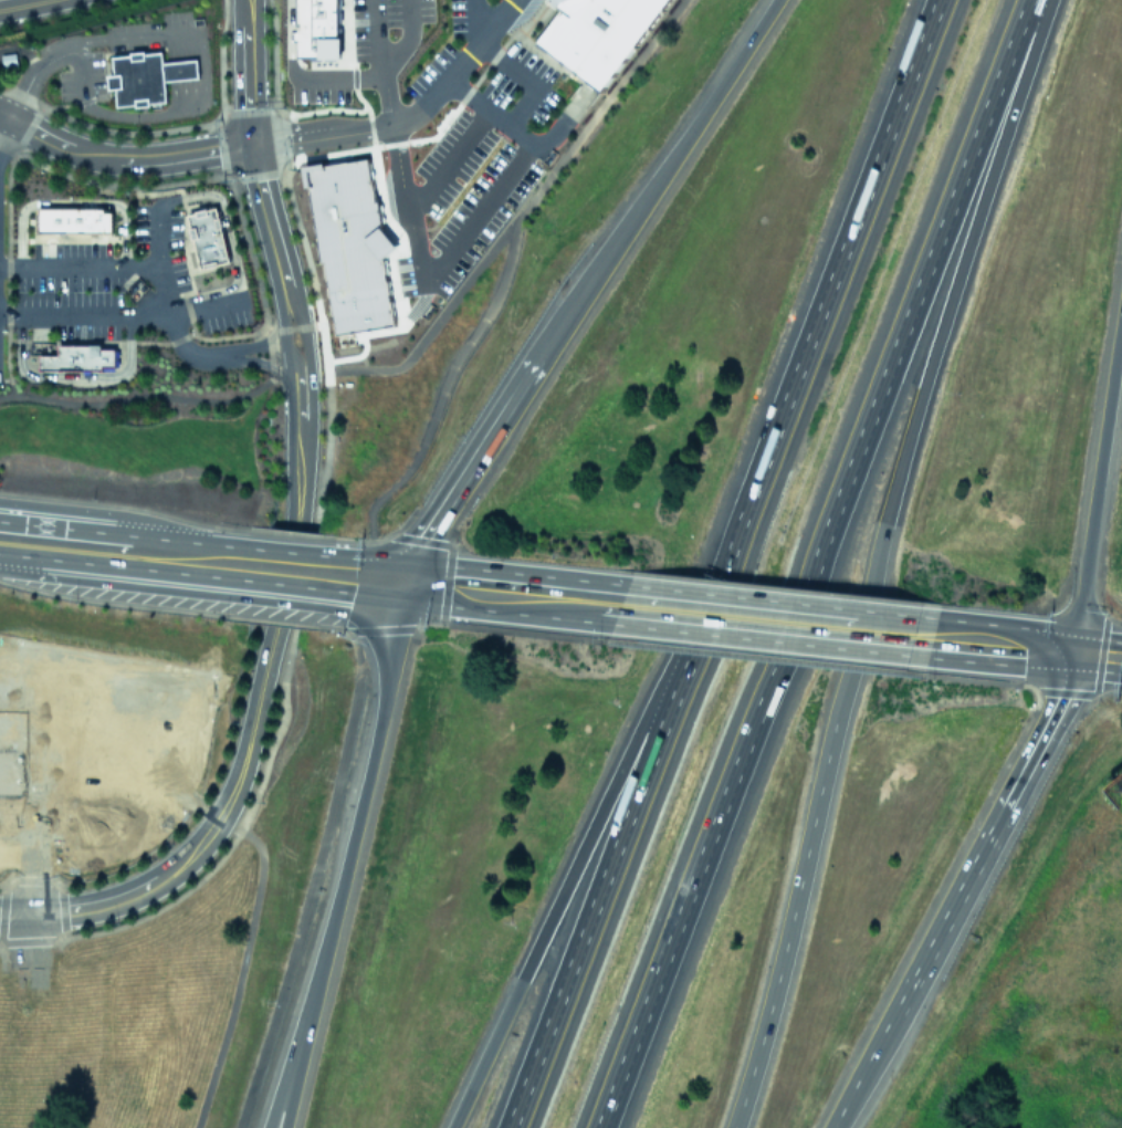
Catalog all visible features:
building: (556, 1)
road: (23, 4)
building: (315, 27)
road: (139, 33)
building: (597, 33)
road: (376, 35)
road: (402, 38)
road: (289, 39)
parking lot: (368, 48)
building: (9, 58)
parking lot: (489, 60)
road: (507, 66)
road: (180, 69)
road: (78, 70)
road: (247, 73)
road: (339, 74)
building: (145, 75)
road: (29, 76)
parking lot: (81, 77)
road: (146, 113)
road: (406, 117)
road: (391, 124)
road: (518, 134)
traffic signals: (252, 146)
road: (122, 160)
road: (449, 160)
road: (657, 180)
parking lot: (450, 199)
road: (223, 211)
building: (72, 218)
road: (270, 224)
building: (208, 234)
building: (352, 246)
road: (454, 251)
road: (506, 259)
road: (77, 264)
parking lot: (97, 272)
road: (165, 301)
road: (126, 315)
parking lot: (226, 318)
road: (433, 325)
road: (266, 328)
road: (283, 341)
road: (254, 346)
building: (78, 357)
road: (930, 359)
road: (260, 363)
road: (314, 364)
road: (306, 369)
road: (296, 384)
road: (136, 396)
road: (289, 411)
road: (326, 428)
road: (466, 468)
road: (296, 484)
road: (1098, 487)
road: (116, 515)
road: (112, 550)
road: (722, 563)
road: (812, 563)
road: (289, 568)
road: (379, 577)
traffic signals: (406, 581)
road: (444, 592)
road: (513, 593)
road: (705, 615)
road: (862, 630)
road: (1005, 646)
traffic signals: (1076, 654)
road: (1098, 656)
road: (48, 697)
road: (273, 730)
building: (84, 734)
gas station: (84, 734)
road: (367, 782)
parking lot: (74, 797)
road: (212, 825)
building: (74, 826)
road: (570, 876)
road: (312, 880)
road: (961, 894)
road: (15, 913)
traffic signals: (31, 913)
road: (788, 928)
road: (239, 974)
road: (293, 1055)
road: (302, 1055)

